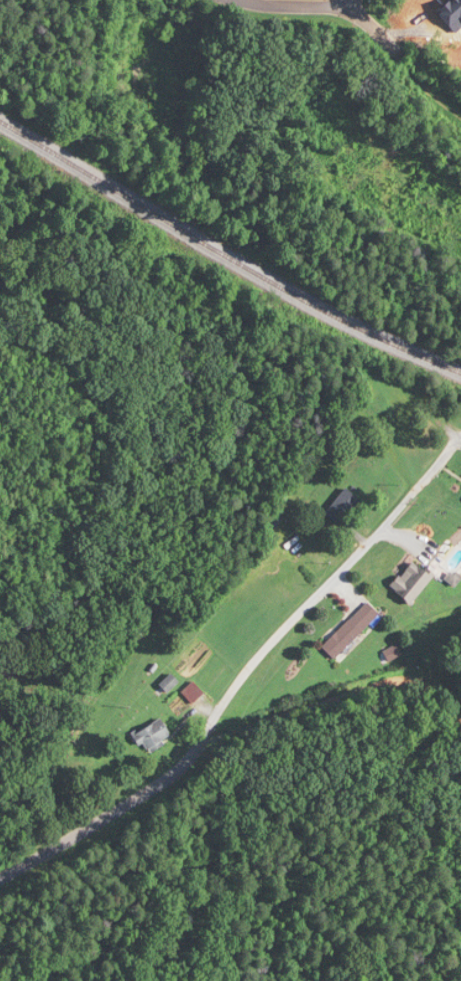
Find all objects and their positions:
road: (347, 1)
road: (293, 4)
road: (372, 26)
railway: (225, 259)
building: (342, 506)
building: (411, 581)
building: (350, 630)
road: (242, 674)
building: (169, 684)
building: (192, 693)
road: (334, 698)
building: (153, 737)

